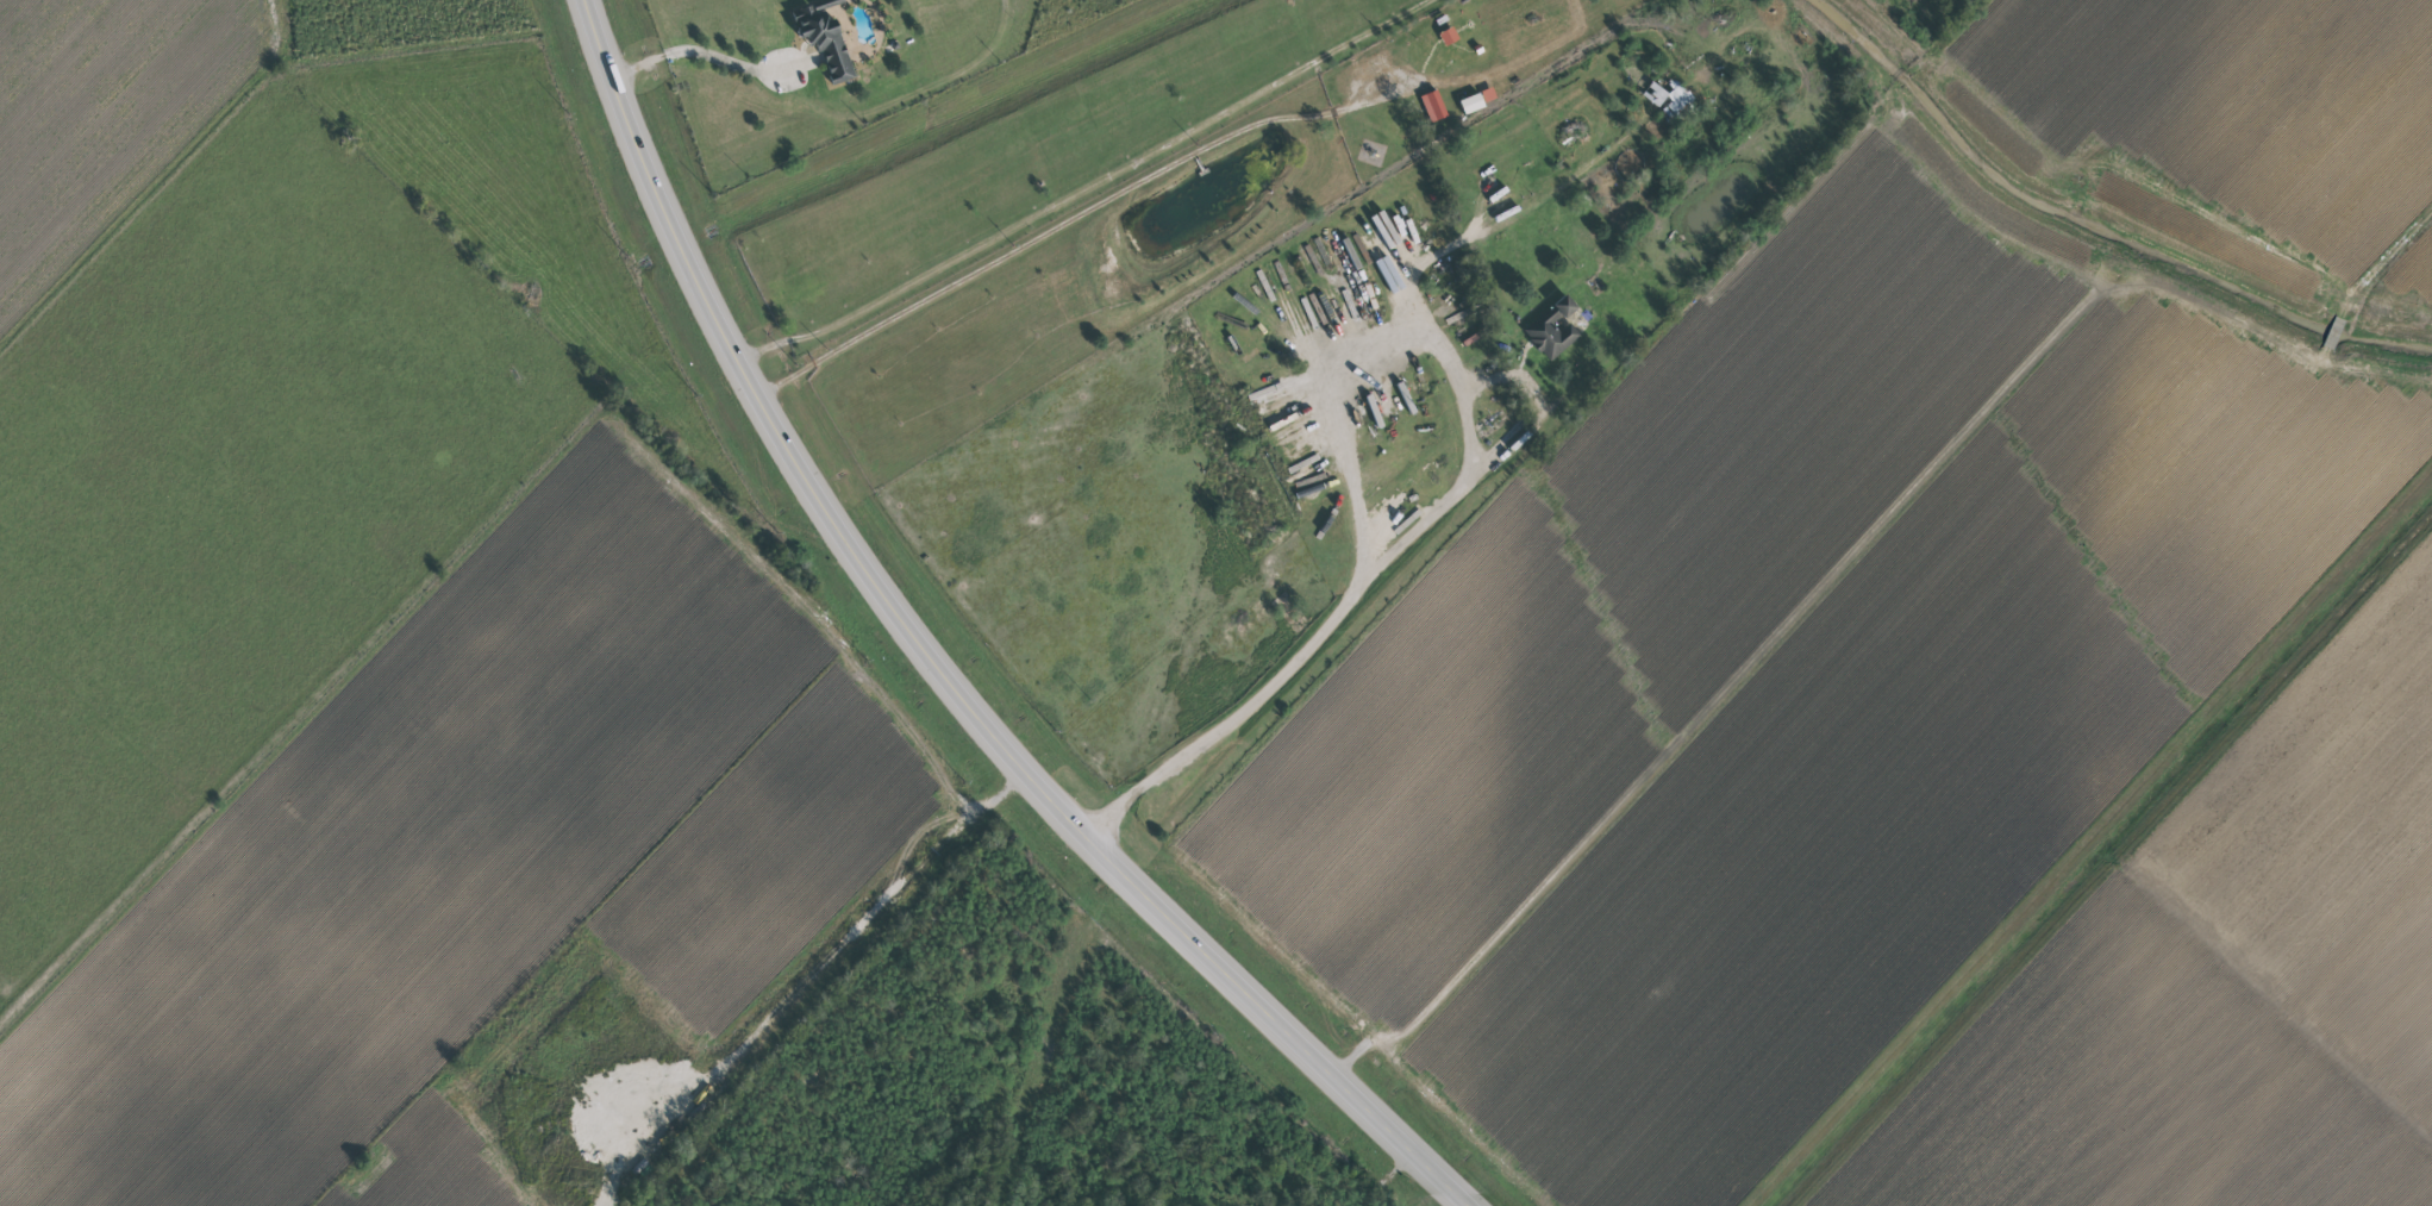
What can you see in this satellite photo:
building: (823, 39)
road: (699, 58)
building: (1487, 94)
building: (1667, 99)
building: (1470, 104)
building: (1432, 105)
road: (1096, 190)
road: (1409, 265)
road: (2394, 265)
building: (1551, 329)
road: (1351, 376)
road: (1527, 419)
road: (1287, 658)
road: (936, 667)

